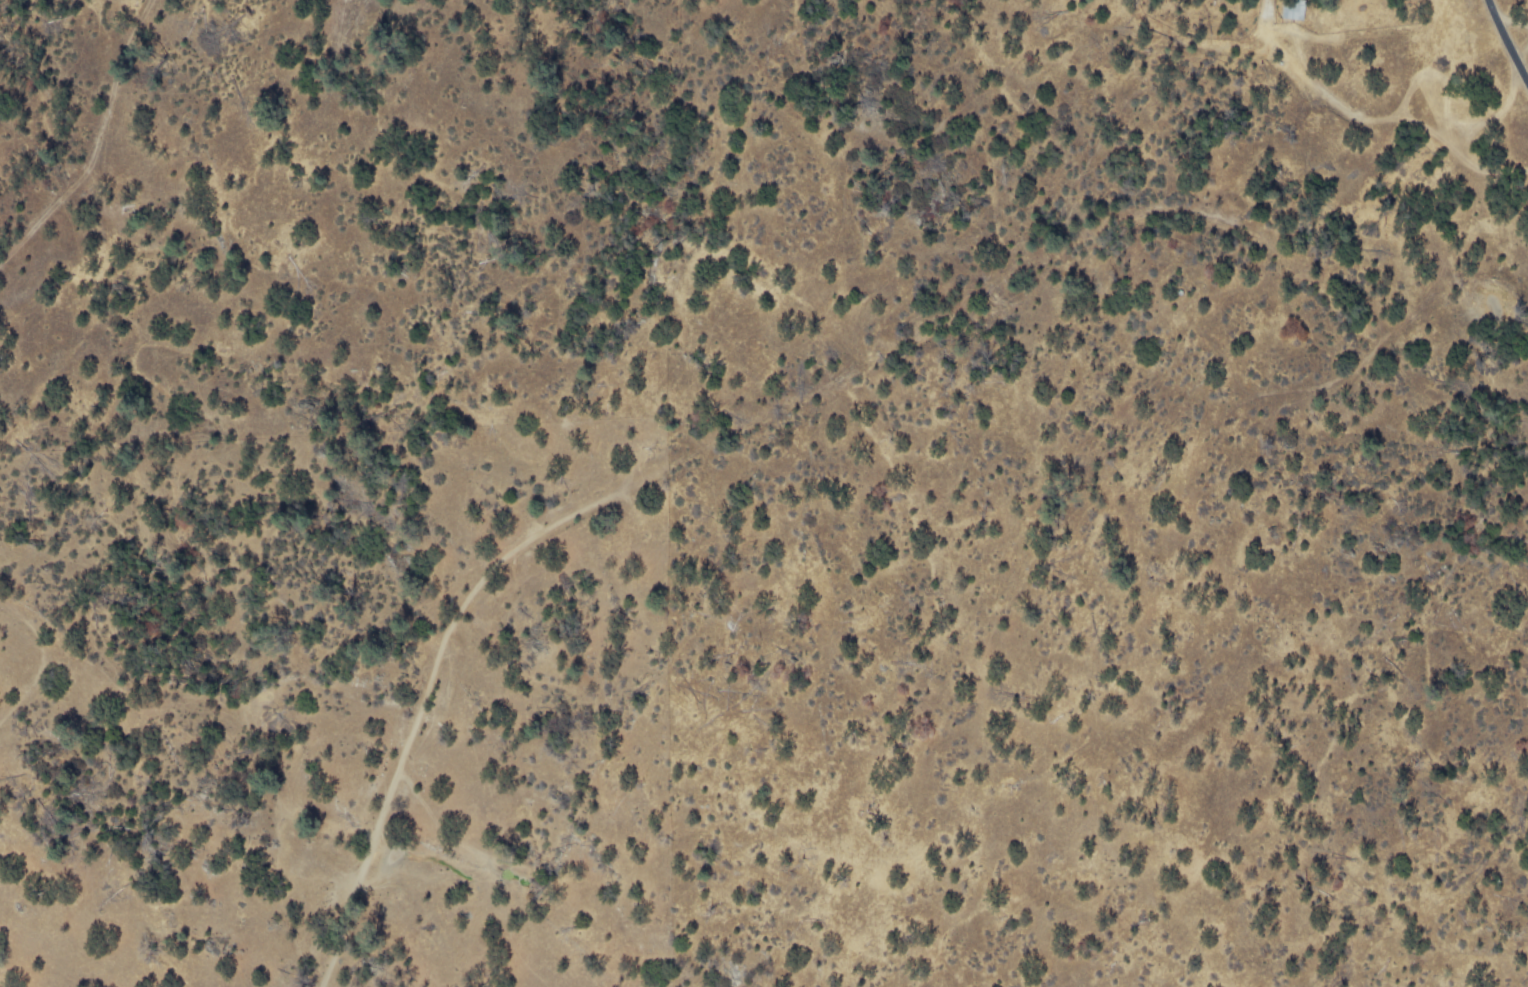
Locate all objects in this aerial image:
building: (1298, 10)
road: (1510, 18)
road: (1506, 40)
road: (1521, 55)
road: (90, 127)

